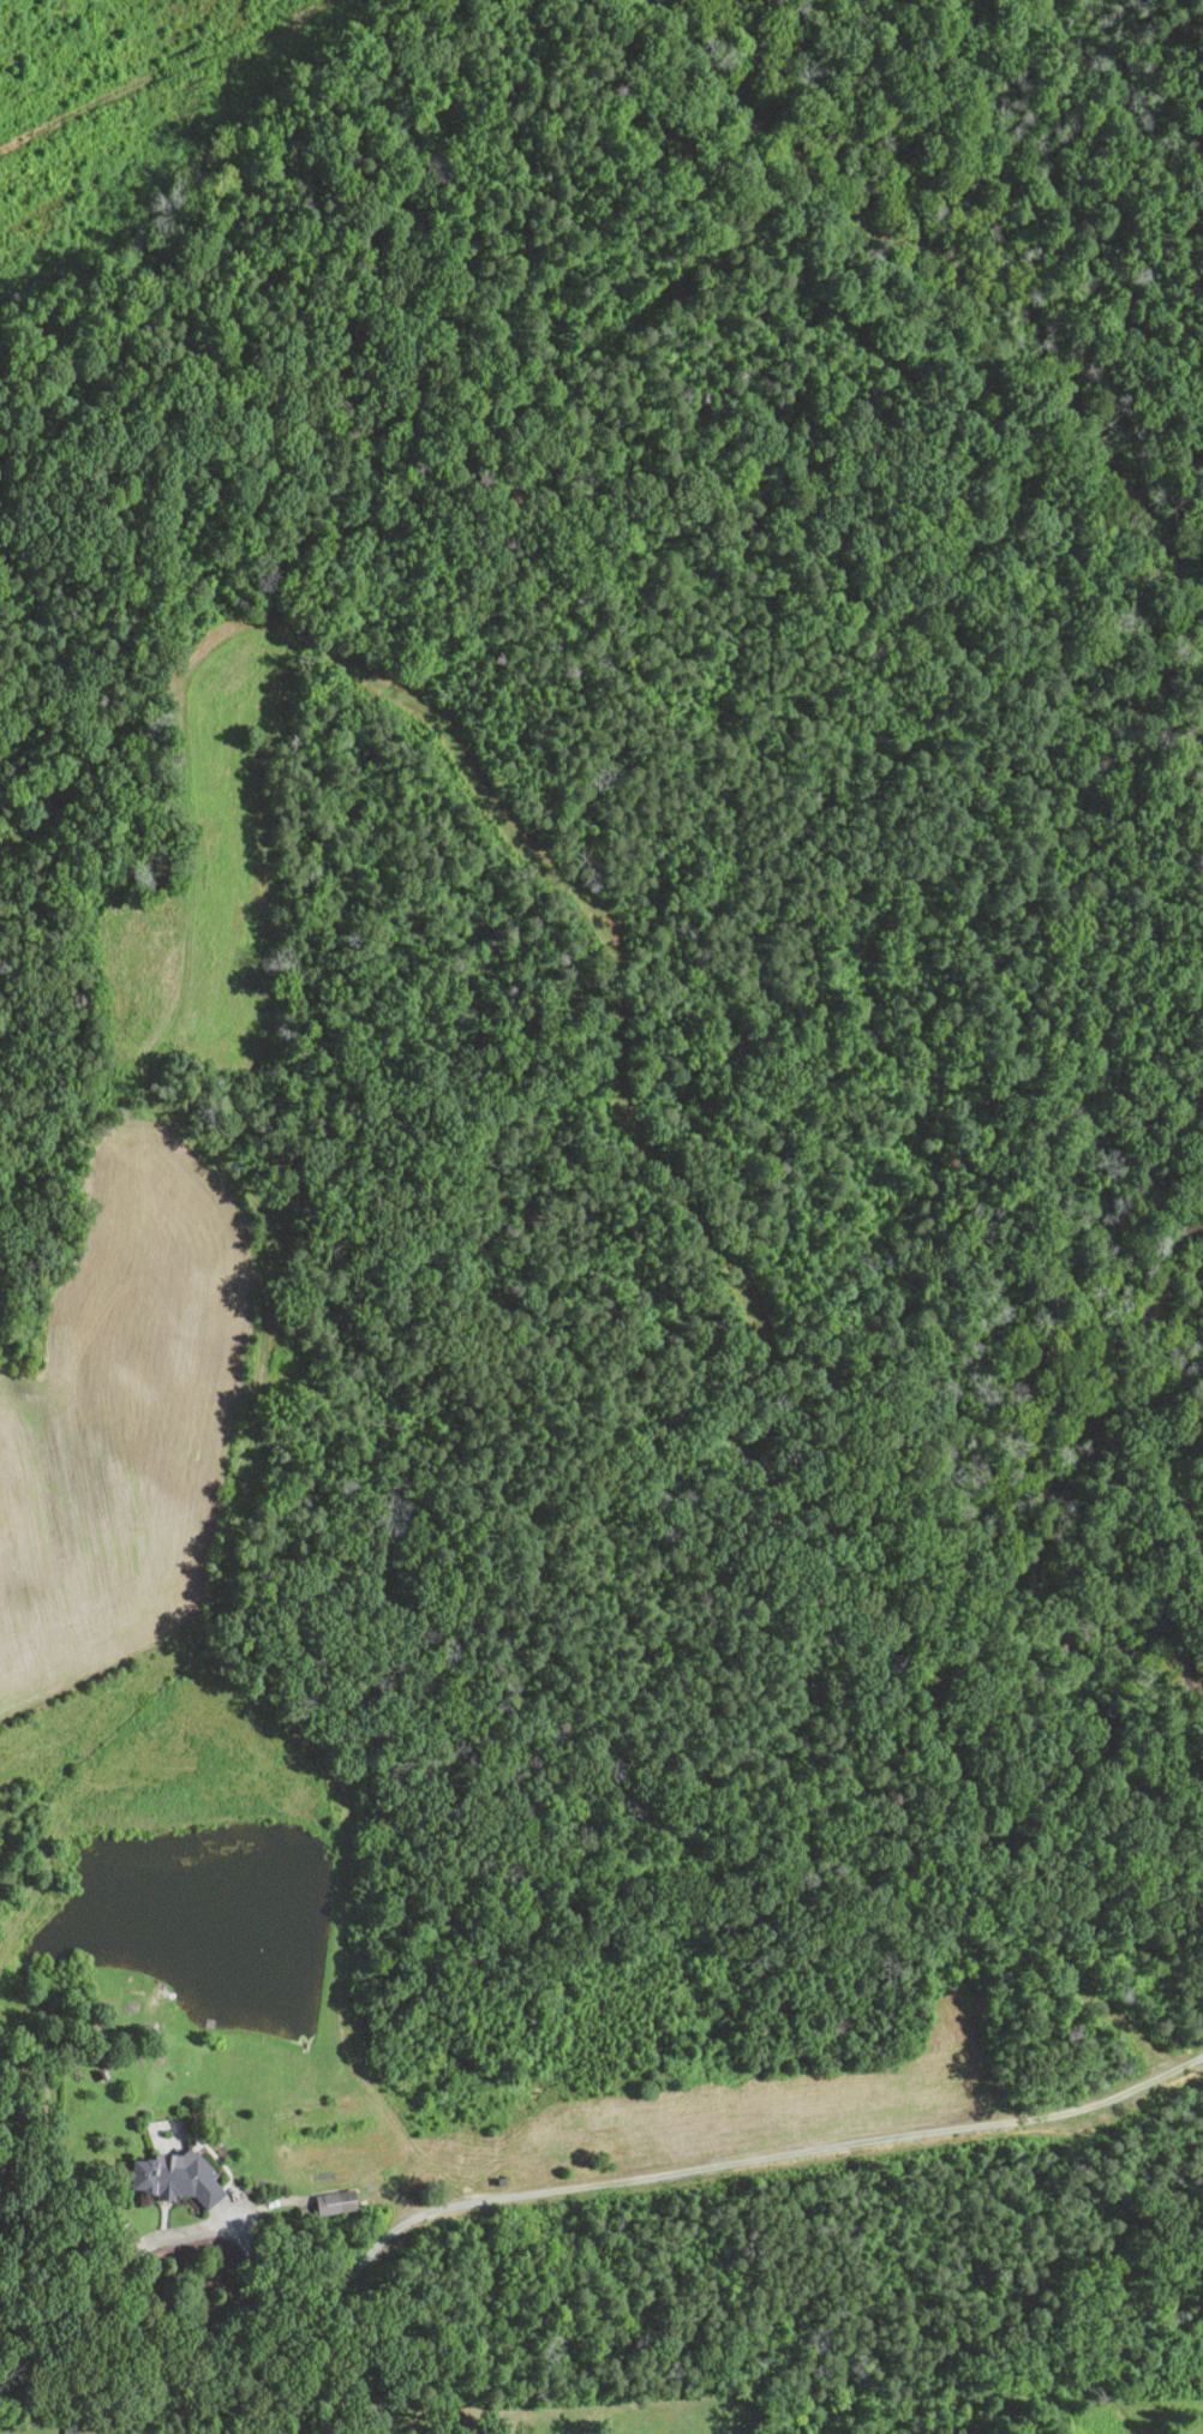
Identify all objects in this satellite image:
building: (170, 2176)
building: (335, 2201)
road: (255, 2254)
road: (40, 2316)

